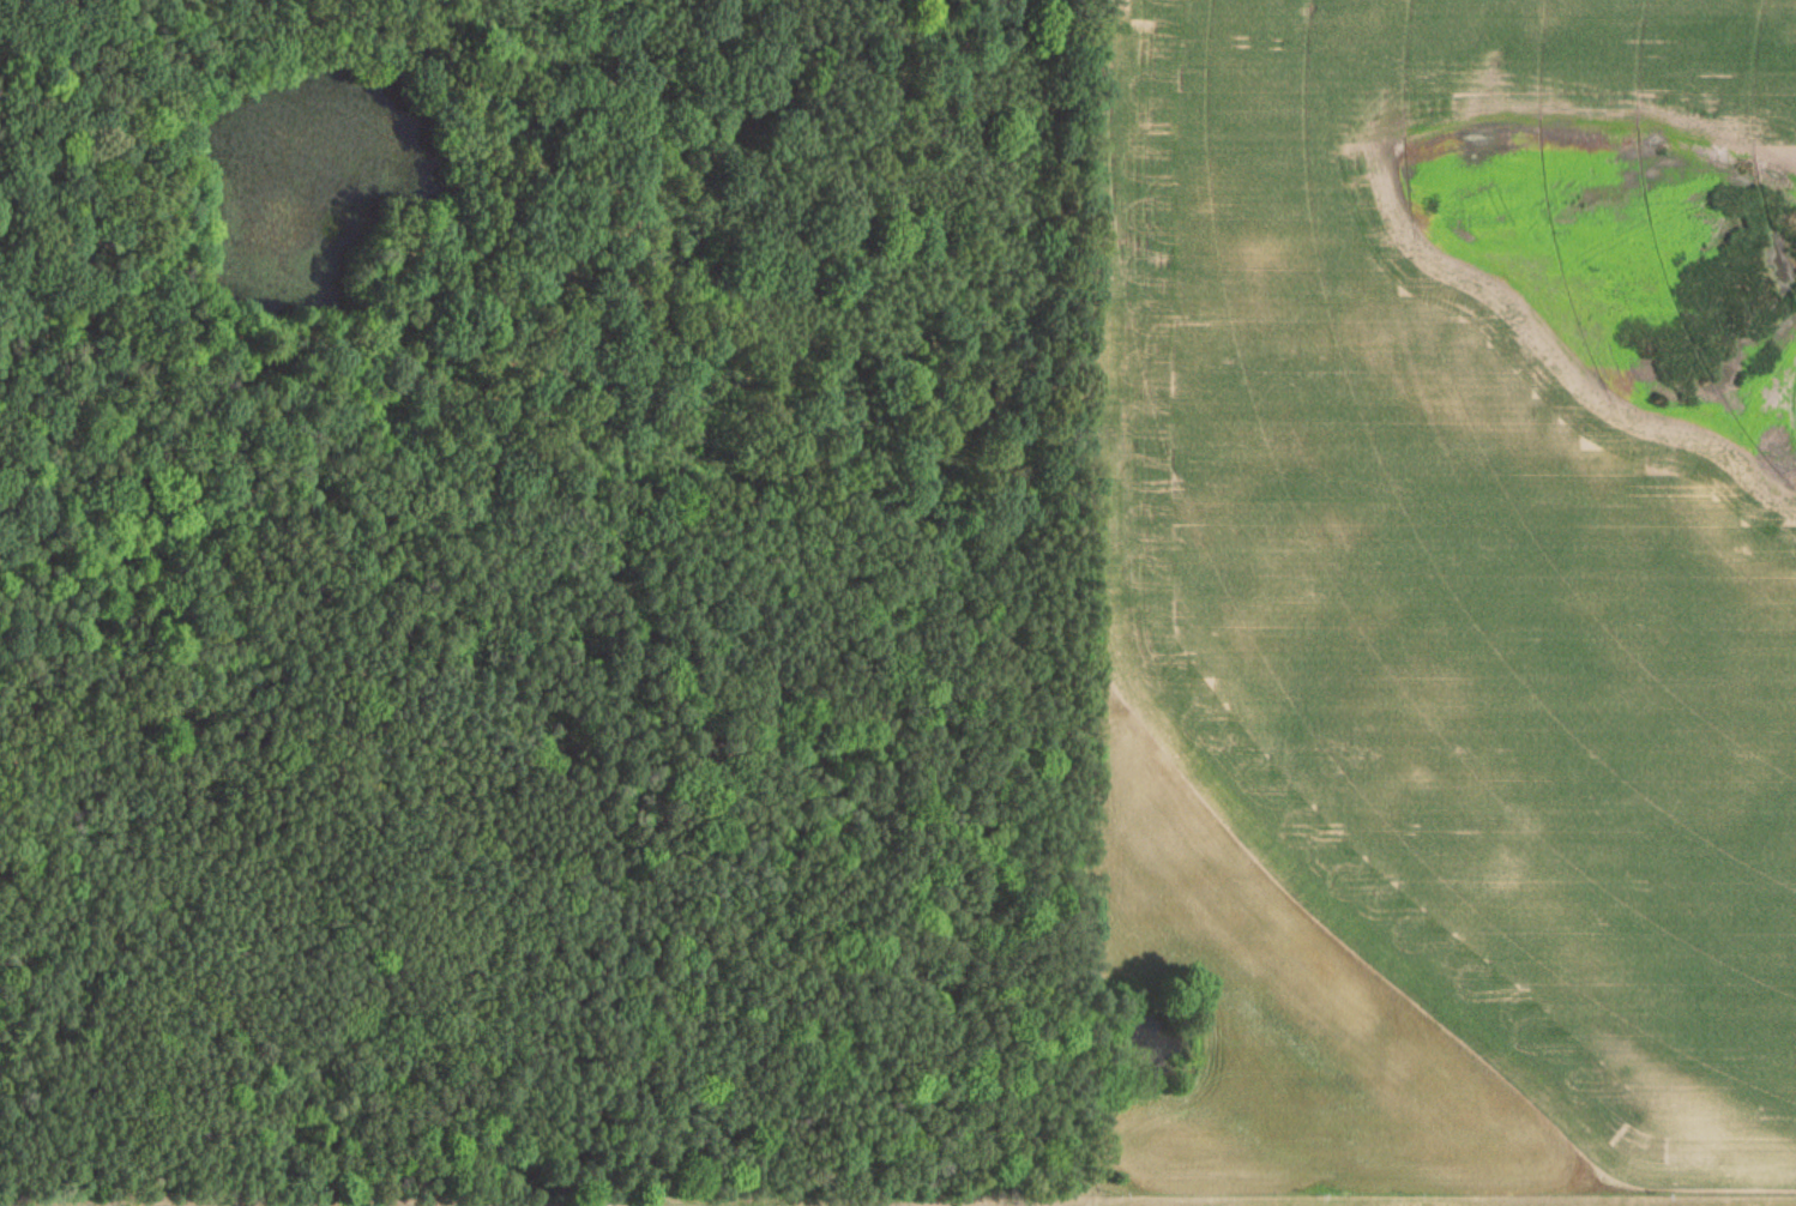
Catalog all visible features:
road: (608, 603)

